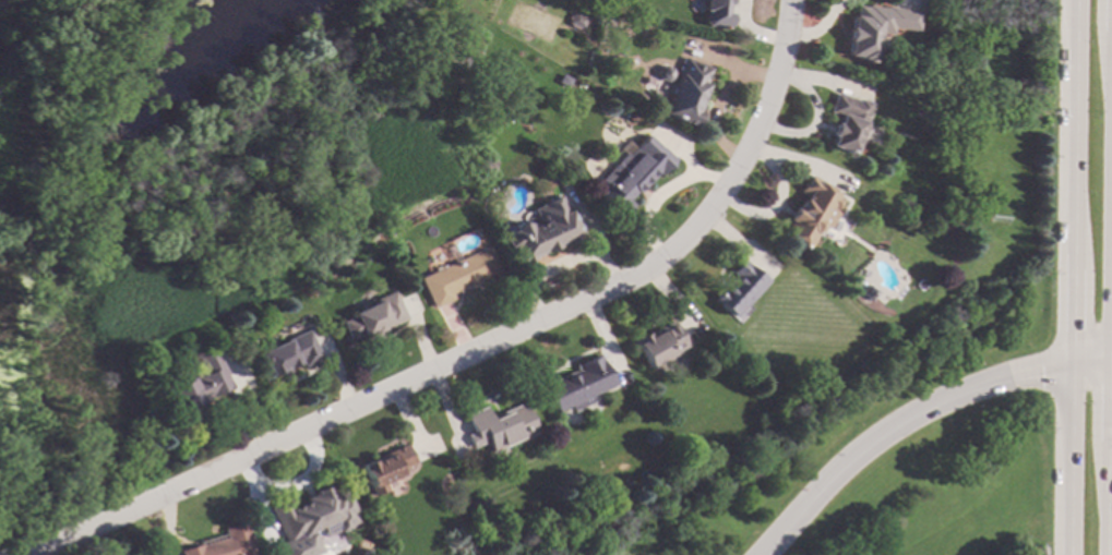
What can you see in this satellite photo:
building: (714, 13)
building: (575, 21)
building: (873, 29)
building: (660, 73)
building: (645, 82)
building: (683, 92)
building: (845, 122)
building: (489, 166)
building: (630, 174)
park: (217, 195)
building: (808, 213)
building: (541, 232)
building: (455, 275)
road: (1068, 277)
building: (736, 288)
building: (866, 292)
building: (370, 315)
road: (468, 343)
building: (658, 345)
building: (287, 352)
building: (574, 385)
building: (199, 386)
road: (913, 413)
building: (497, 426)
road: (1110, 454)
park: (881, 456)
building: (382, 469)
building: (309, 520)
building: (222, 543)

